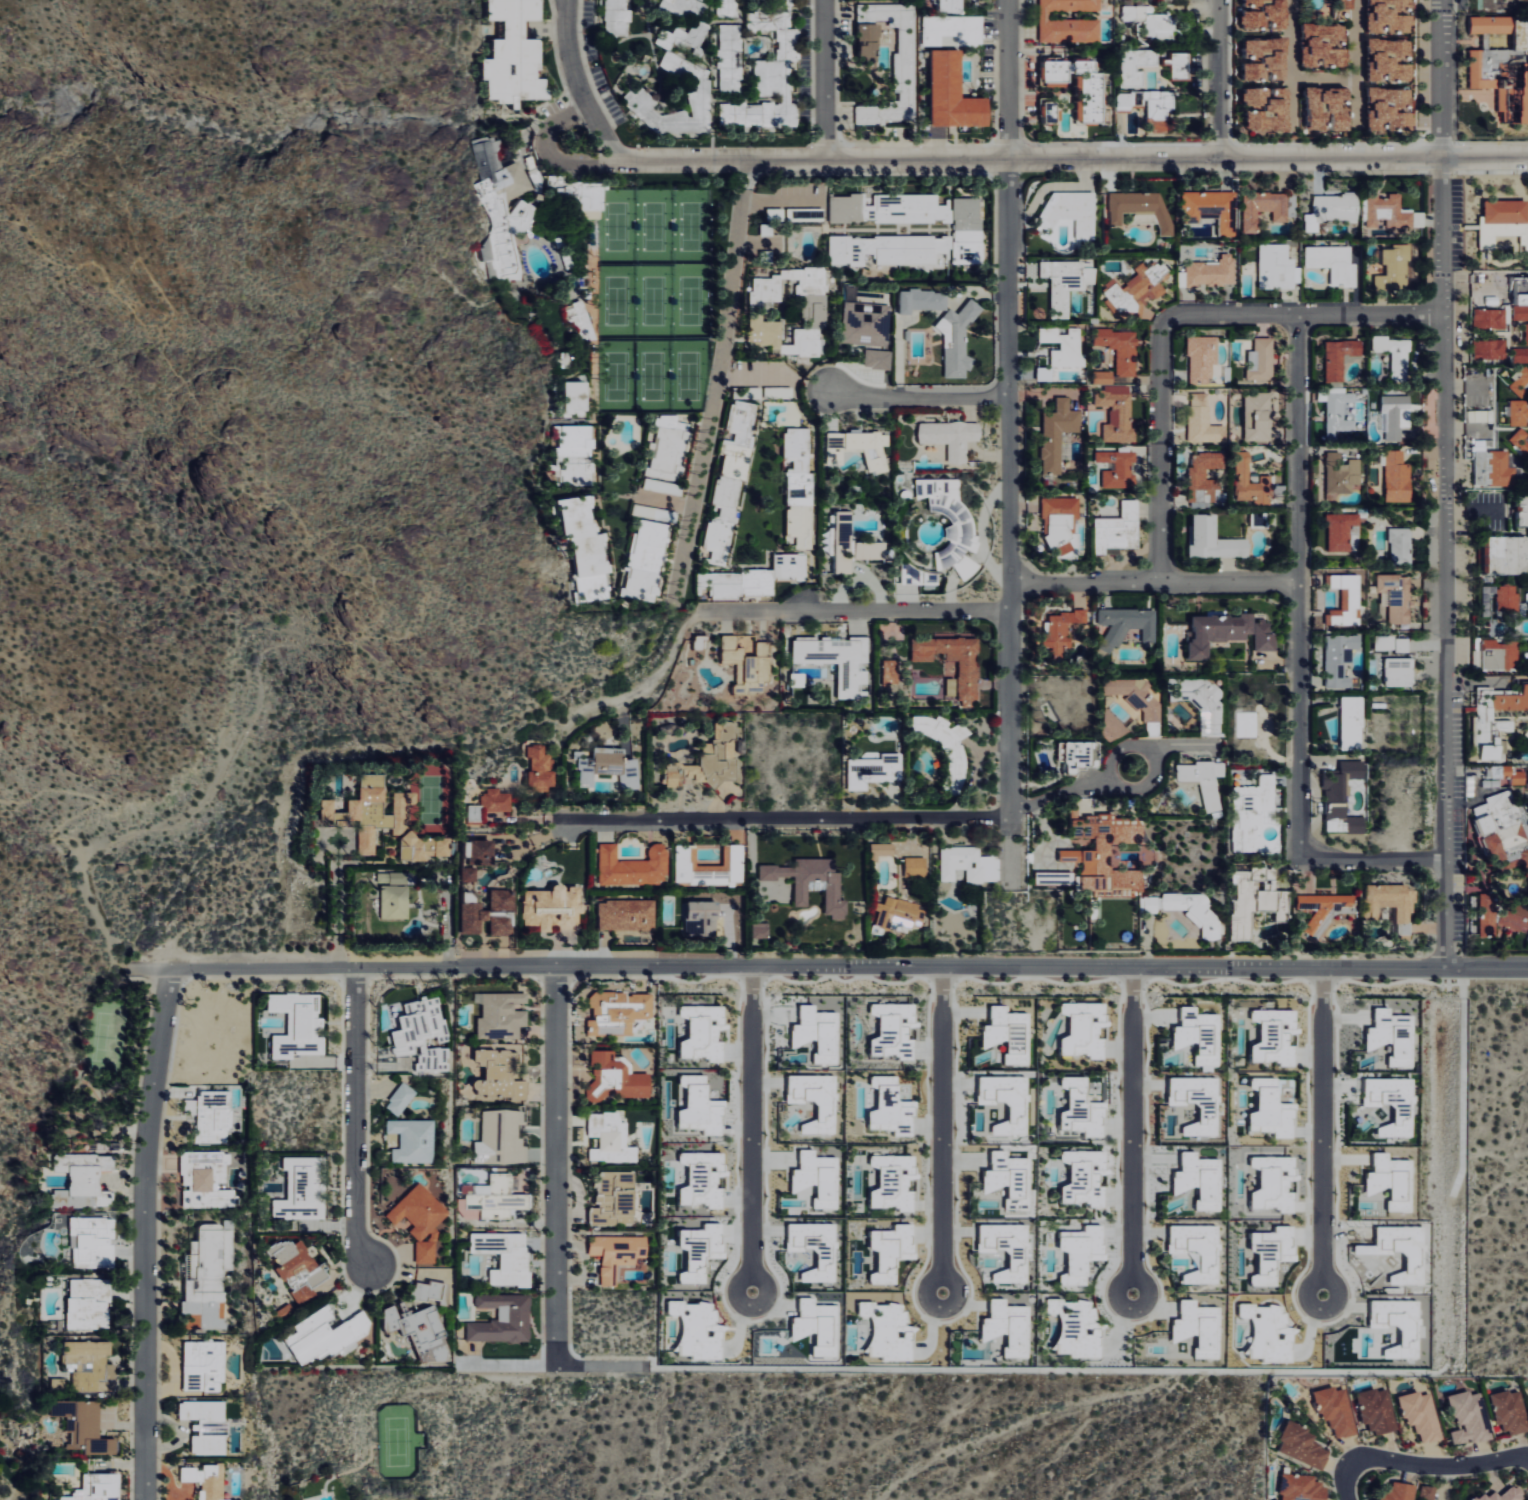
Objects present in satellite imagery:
building: (1346, 4)
building: (949, 6)
building: (726, 8)
building: (1265, 14)
building: (618, 16)
building: (1391, 16)
building: (1151, 21)
building: (1069, 22)
building: (698, 25)
building: (953, 29)
building: (1324, 45)
building: (515, 54)
building: (729, 57)
building: (868, 57)
building: (1266, 58)
building: (1389, 59)
road: (1290, 62)
road: (1355, 64)
building: (1527, 64)
building: (1180, 65)
building: (1136, 66)
building: (1478, 70)
building: (769, 71)
road: (824, 80)
road: (1219, 80)
road: (1322, 80)
road: (576, 81)
building: (698, 91)
building: (953, 93)
building: (1129, 99)
building: (1092, 104)
building: (1267, 108)
building: (1328, 108)
building: (1390, 109)
building: (1050, 110)
building: (1159, 110)
road: (1070, 160)
building: (503, 207)
building: (888, 208)
building: (1141, 208)
building: (1211, 208)
building: (1263, 208)
building: (1332, 209)
building: (1071, 211)
building: (1387, 211)
building: (1502, 223)
building: (919, 242)
building: (1334, 263)
building: (1276, 267)
building: (1395, 269)
building: (1211, 271)
building: (1067, 282)
building: (1138, 290)
building: (922, 300)
building: (789, 311)
road: (1302, 314)
building: (1489, 318)
building: (865, 323)
building: (585, 327)
building: (1527, 332)
building: (958, 340)
building: (1065, 347)
building: (1120, 348)
building: (1490, 349)
building: (1396, 354)
building: (1520, 354)
building: (1340, 357)
building: (878, 358)
building: (1202, 358)
building: (1262, 359)
building: (1045, 373)
building: (1104, 377)
building: (1520, 379)
road: (719, 382)
building: (576, 396)
road: (919, 399)
road: (1010, 408)
building: (1339, 410)
building: (1117, 412)
building: (1519, 412)
building: (1396, 414)
building: (1478, 415)
building: (1260, 418)
building: (1203, 420)
building: (1058, 433)
building: (951, 437)
building: (1521, 441)
building: (858, 448)
building: (668, 449)
road: (1160, 453)
building: (577, 455)
building: (1119, 468)
building: (1495, 469)
building: (1205, 475)
building: (1341, 475)
building: (730, 481)
building: (1252, 482)
building: (649, 483)
building: (798, 484)
road: (1446, 484)
building: (1523, 509)
building: (1258, 519)
building: (1061, 522)
building: (952, 525)
building: (1119, 529)
building: (1342, 530)
road: (304, 540)
building: (1214, 540)
building: (844, 542)
building: (1404, 543)
building: (587, 547)
building: (871, 549)
building: (1507, 555)
building: (647, 561)
building: (790, 567)
road: (1154, 581)
building: (739, 584)
road: (1298, 586)
building: (1397, 596)
building: (1347, 598)
road: (852, 610)
building: (1127, 625)
building: (1061, 630)
building: (1218, 631)
building: (1265, 637)
building: (1392, 643)
building: (836, 660)
building: (1341, 660)
building: (747, 666)
building: (890, 672)
building: (1400, 672)
building: (969, 683)
building: (952, 686)
road: (641, 687)
building: (1137, 696)
building: (1201, 702)
building: (1495, 720)
building: (1352, 723)
building: (1112, 727)
road: (1182, 746)
building: (1079, 756)
building: (709, 761)
building: (541, 766)
building: (617, 766)
building: (874, 771)
building: (586, 772)
building: (1517, 777)
building: (1204, 779)
road: (1147, 785)
road: (1060, 794)
building: (1343, 797)
building: (491, 804)
building: (374, 806)
building: (1253, 814)
road: (783, 819)
building: (1096, 823)
building: (1504, 833)
road: (56, 840)
building: (367, 840)
building: (442, 847)
building: (416, 849)
building: (881, 850)
road: (1372, 858)
building: (968, 864)
building: (633, 866)
building: (710, 866)
building: (916, 867)
building: (1101, 871)
building: (1055, 878)
building: (812, 882)
building: (1526, 891)
road: (338, 903)
building: (1152, 904)
building: (1242, 905)
building: (1392, 905)
building: (553, 908)
building: (1195, 909)
building: (1322, 910)
building: (490, 914)
building: (627, 915)
building: (900, 915)
building: (702, 918)
building: (1500, 919)
building: (760, 930)
road: (613, 968)
road: (1314, 968)
building: (615, 1011)
building: (1079, 1029)
building: (888, 1030)
building: (698, 1032)
building: (812, 1033)
building: (1002, 1033)
building: (1194, 1036)
building: (1270, 1036)
building: (497, 1072)
building: (614, 1076)
building: (397, 1098)
building: (810, 1099)
building: (1001, 1101)
building: (1192, 1102)
building: (1386, 1103)
building: (695, 1106)
building: (885, 1107)
building: (1077, 1108)
building: (1266, 1110)
road: (749, 1130)
road: (935, 1134)
road: (1126, 1136)
road: (1330, 1136)
building: (499, 1137)
building: (607, 1138)
building: (408, 1139)
road: (554, 1167)
road: (354, 1168)
building: (83, 1177)
building: (1001, 1178)
building: (698, 1179)
building: (1193, 1179)
building: (888, 1182)
building: (608, 1198)
building: (415, 1210)
road: (149, 1234)
building: (94, 1240)
building: (809, 1248)
building: (1000, 1249)
building: (695, 1250)
building: (1190, 1250)
building: (422, 1251)
building: (886, 1251)
building: (1075, 1252)
building: (612, 1254)
building: (500, 1256)
building: (424, 1290)
building: (88, 1303)
building: (501, 1323)
building: (811, 1325)
building: (1004, 1326)
building: (1194, 1327)
building: (1076, 1328)
building: (694, 1330)
building: (885, 1330)
road: (556, 1366)
building: (1333, 1408)
building: (1373, 1408)
building: (1507, 1409)
building: (1418, 1413)
building: (1466, 1416)
building: (202, 1425)
building: (93, 1426)
building: (1299, 1445)
road: (1438, 1465)
road: (1343, 1481)
building: (96, 1487)
building: (1297, 1487)
building: (1395, 1491)
building: (1500, 1495)

